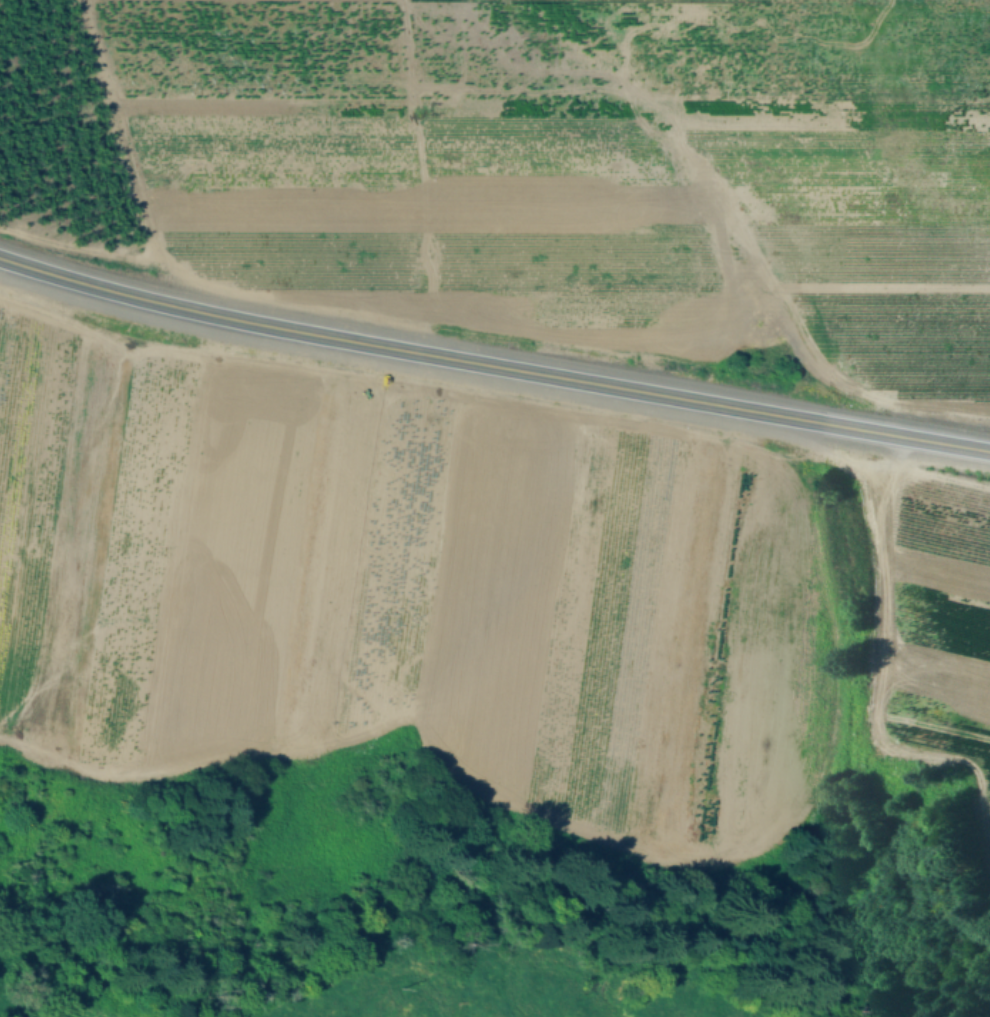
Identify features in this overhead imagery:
crop: (585, 160)
road: (492, 366)
crop: (474, 600)

